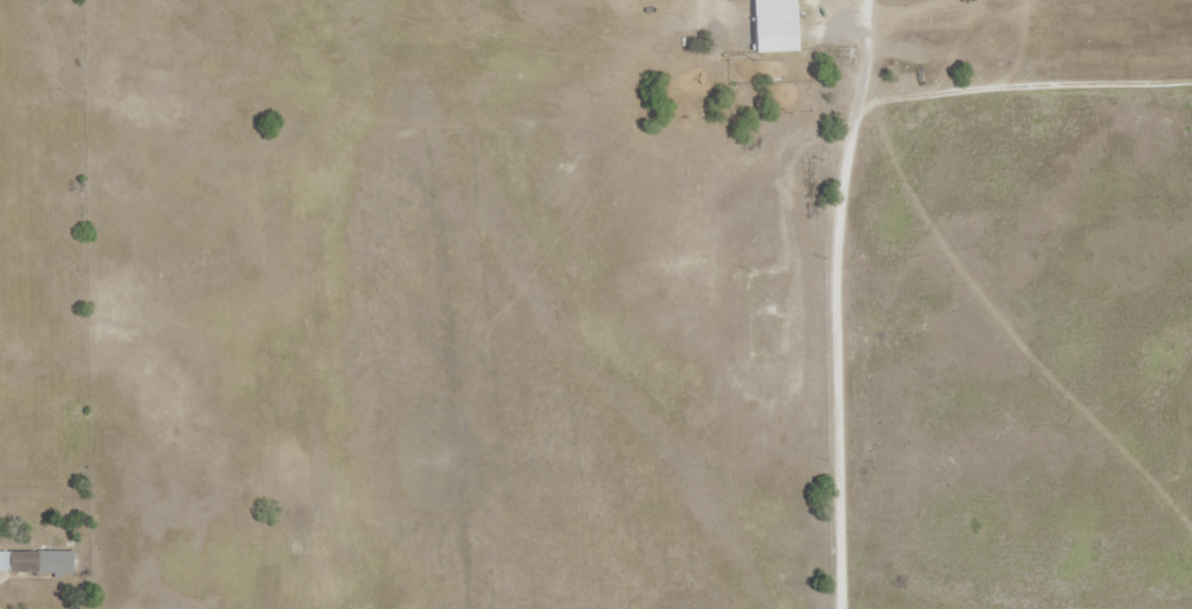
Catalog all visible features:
building: (772, 25)
road: (980, 86)
road: (832, 348)
building: (36, 559)

